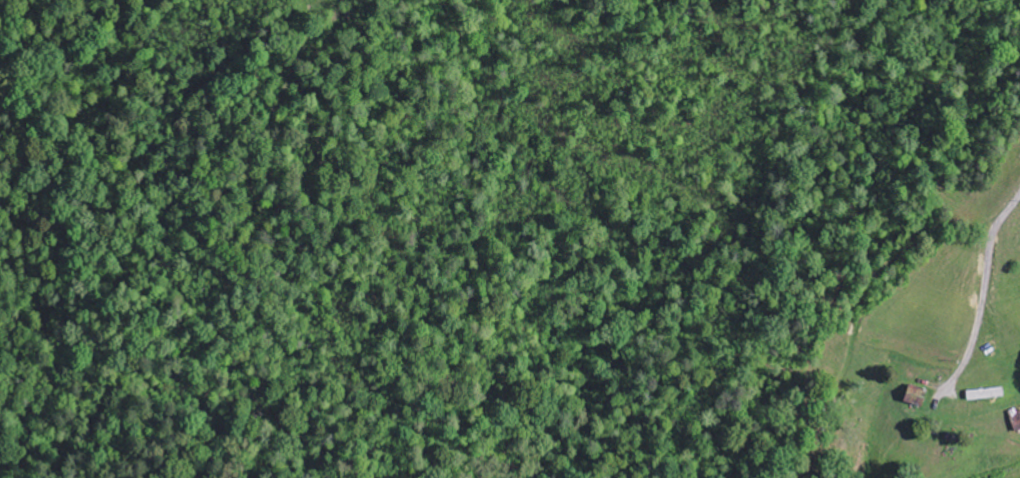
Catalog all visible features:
road: (985, 277)

